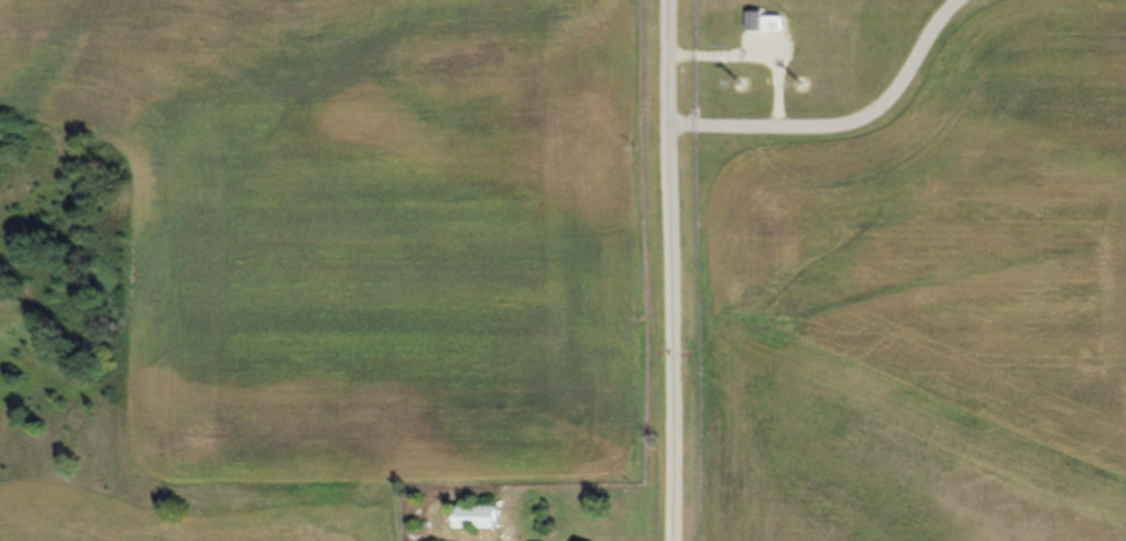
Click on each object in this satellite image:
building: (762, 21)
airport: (562, 264)
road: (668, 270)
building: (479, 516)

